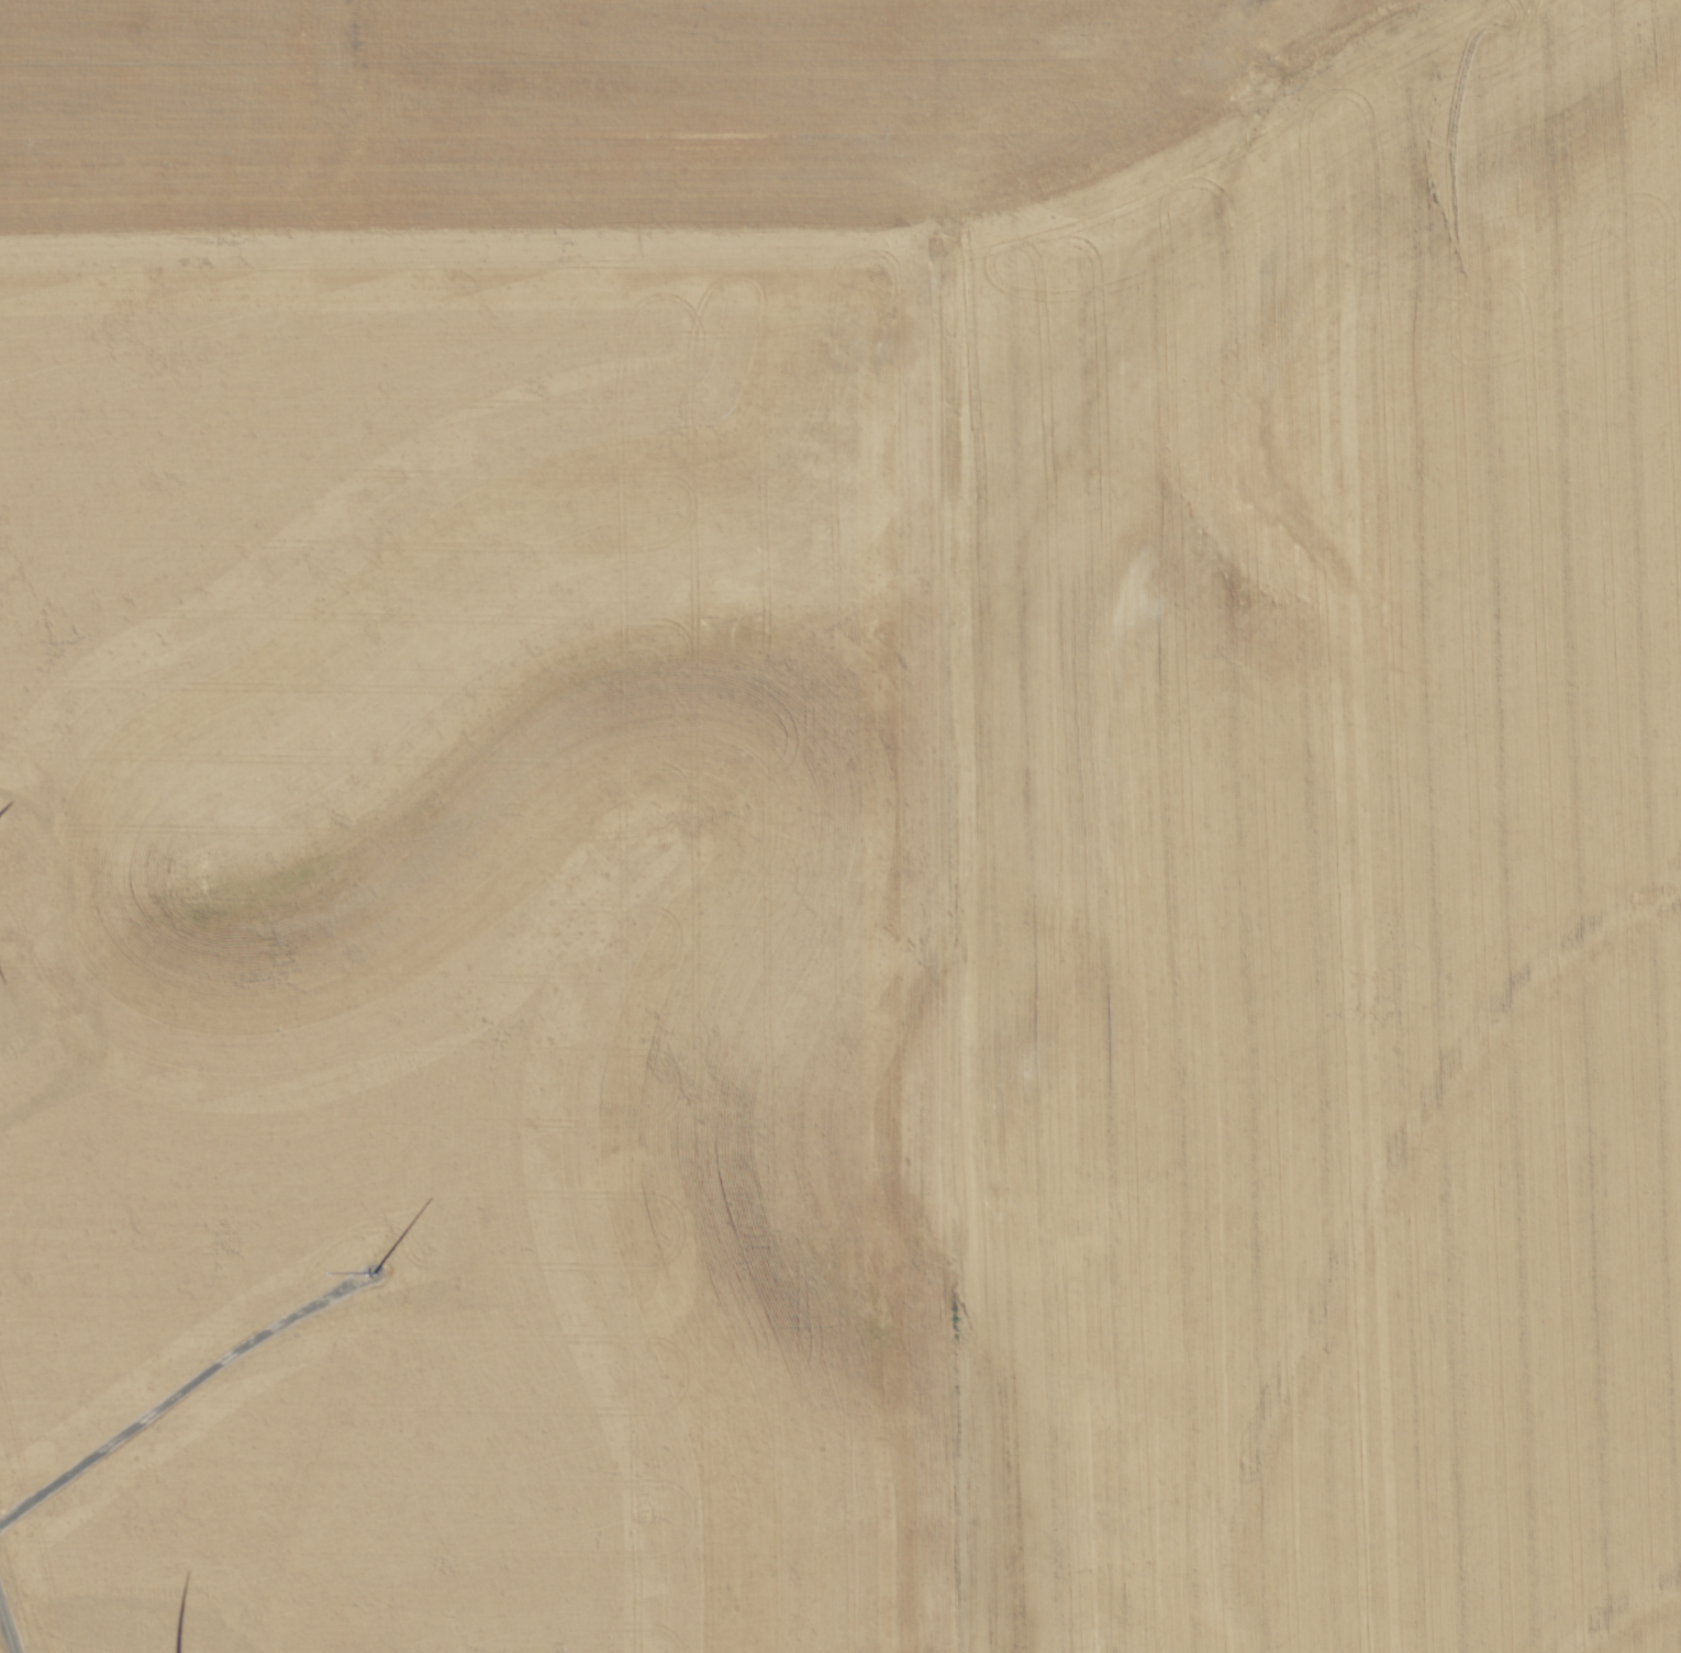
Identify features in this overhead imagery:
road: (10, 1621)

